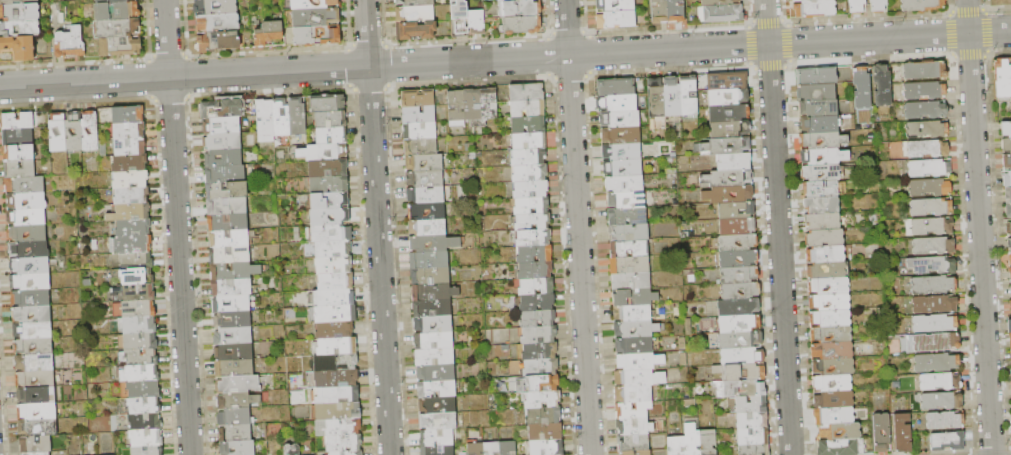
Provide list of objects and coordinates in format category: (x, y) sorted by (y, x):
building: (513, 0)
building: (803, 0)
building: (111, 1)
building: (17, 2)
building: (415, 2)
building: (719, 2)
building: (315, 4)
building: (923, 5)
building: (215, 6)
building: (616, 6)
building: (879, 6)
building: (858, 7)
building: (815, 8)
building: (523, 9)
building: (118, 11)
building: (659, 11)
building: (676, 11)
building: (19, 12)
building: (415, 14)
building: (723, 14)
building: (316, 17)
building: (460, 18)
building: (616, 20)
building: (477, 22)
building: (218, 23)
building: (522, 25)
building: (20, 28)
building: (117, 28)
building: (418, 30)
building: (269, 33)
building: (317, 36)
building: (218, 41)
building: (70, 43)
building: (20, 47)
building: (121, 47)
road: (505, 58)
building: (925, 70)
building: (817, 76)
building: (1002, 77)
building: (728, 81)
building: (883, 86)
building: (616, 88)
building: (863, 89)
building: (925, 91)
building: (817, 92)
building: (527, 93)
building: (673, 96)
building: (689, 96)
building: (729, 97)
building: (656, 98)
building: (418, 99)
building: (328, 103)
building: (617, 103)
building: (488, 105)
building: (473, 107)
building: (457, 108)
building: (819, 108)
building: (223, 109)
building: (528, 109)
building: (926, 110)
building: (730, 113)
building: (128, 115)
building: (419, 115)
building: (297, 116)
building: (282, 117)
building: (620, 119)
building: (331, 120)
building: (16, 121)
building: (265, 121)
building: (820, 124)
building: (222, 126)
building: (529, 126)
building: (1005, 126)
building: (731, 129)
building: (927, 129)
building: (129, 130)
building: (90, 131)
building: (420, 131)
building: (74, 132)
building: (58, 133)
building: (622, 135)
building: (332, 136)
building: (18, 137)
building: (823, 140)
building: (530, 141)
building: (223, 142)
building: (1005, 142)
building: (130, 146)
building: (728, 146)
building: (420, 147)
building: (928, 149)
building: (18, 152)
building: (623, 152)
building: (324, 153)
building: (824, 156)
building: (223, 157)
building: (529, 157)
building: (1006, 159)
building: (734, 162)
building: (130, 163)
building: (424, 163)
building: (623, 167)
building: (328, 168)
building: (929, 168)
building: (20, 169)
building: (530, 173)
building: (822, 173)
building: (225, 174)
building: (1006, 175)
building: (425, 179)
building: (728, 179)
building: (131, 180)
building: (25, 184)
building: (329, 184)
building: (625, 184)
building: (930, 188)
building: (531, 189)
building: (821, 189)
building: (227, 190)
building: (1007, 191)
building: (132, 195)
building: (729, 195)
building: (426, 196)
building: (330, 200)
building: (626, 200)
building: (27, 201)
building: (822, 205)
building: (227, 206)
building: (532, 206)
building: (931, 207)
building: (1008, 208)
building: (736, 210)
building: (427, 211)
building: (130, 212)
building: (628, 216)
building: (27, 217)
building: (330, 217)
building: (228, 222)
building: (532, 222)
building: (823, 222)
building: (1008, 225)
building: (737, 226)
building: (933, 226)
road: (177, 227)
road: (377, 227)
road: (578, 227)
road: (778, 227)
road: (978, 227)
building: (133, 228)
building: (427, 228)
building: (330, 233)
building: (629, 233)
building: (27, 234)
building: (231, 238)
building: (534, 238)
building: (825, 238)
building: (1009, 240)
building: (433, 243)
building: (738, 243)
building: (131, 244)
building: (933, 246)
building: (28, 249)
building: (333, 249)
building: (629, 249)
building: (230, 254)
building: (535, 254)
building: (826, 254)
building: (1009, 256)
building: (739, 259)
building: (136, 260)
building: (429, 260)
building: (334, 265)
building: (630, 265)
building: (932, 265)
building: (30, 266)
building: (535, 270)
building: (827, 270)
building: (233, 271)
building: (1010, 271)
building: (739, 275)
building: (430, 276)
building: (132, 277)
building: (336, 282)
building: (632, 282)
building: (30, 283)
building: (1010, 284)
building: (933, 285)
building: (829, 286)
building: (232, 287)
building: (536, 287)
building: (741, 291)
building: (434, 292)
building: (137, 293)
building: (334, 297)
building: (30, 298)
building: (635, 298)
building: (830, 302)
building: (537, 303)
building: (232, 304)
building: (935, 305)
building: (739, 307)
building: (138, 309)
building: (432, 309)
building: (32, 314)
building: (335, 314)
building: (634, 314)
building: (538, 318)
building: (831, 319)
building: (233, 320)
building: (740, 323)
building: (934, 324)
building: (433, 325)
building: (139, 326)
building: (636, 329)
building: (335, 330)
building: (1008, 330)
building: (32, 331)
building: (538, 334)
building: (832, 334)
building: (233, 336)
building: (434, 340)
building: (739, 340)
building: (140, 342)
building: (936, 342)
building: (904, 343)
building: (34, 346)
building: (335, 346)
building: (635, 346)
building: (833, 350)
building: (537, 351)
building: (234, 352)
building: (742, 356)
building: (142, 357)
building: (435, 357)
building: (640, 362)
building: (35, 363)
building: (336, 363)
building: (936, 363)
building: (541, 367)
building: (834, 367)
building: (235, 369)
building: (1010, 371)
building: (745, 372)
building: (436, 373)
building: (142, 374)
building: (339, 378)
building: (639, 378)
building: (35, 379)
building: (940, 382)
building: (542, 383)
building: (833, 383)
building: (237, 385)
building: (437, 389)
building: (745, 389)
building: (143, 390)
building: (1010, 392)
building: (634, 394)
building: (37, 395)
building: (335, 395)
building: (543, 399)
building: (835, 400)
building: (237, 401)
building: (941, 401)
building: (752, 404)
building: (437, 405)
building: (144, 406)
building: (633, 410)
building: (37, 411)
building: (338, 411)
building: (835, 415)
building: (543, 416)
building: (234, 417)
building: (752, 420)
building: (945, 420)
building: (145, 422)
building: (438, 422)
building: (38, 427)
building: (338, 427)
building: (634, 427)
building: (545, 431)
building: (841, 431)
building: (882, 432)
building: (235, 433)
building: (903, 433)
building: (753, 437)
building: (146, 438)
building: (437, 439)
building: (692, 440)
building: (948, 441)
building: (709, 442)
building: (345, 443)
building: (35, 444)
building: (634, 444)
building: (676, 446)
building: (546, 447)
building: (839, 447)
building: (238, 448)
building: (508, 448)
building: (292, 449)
building: (475, 449)
building: (491, 449)
building: (147, 450)
building: (438, 450)
building: (755, 450)
building: (38, 453)
building: (347, 453)
building: (639, 453)

